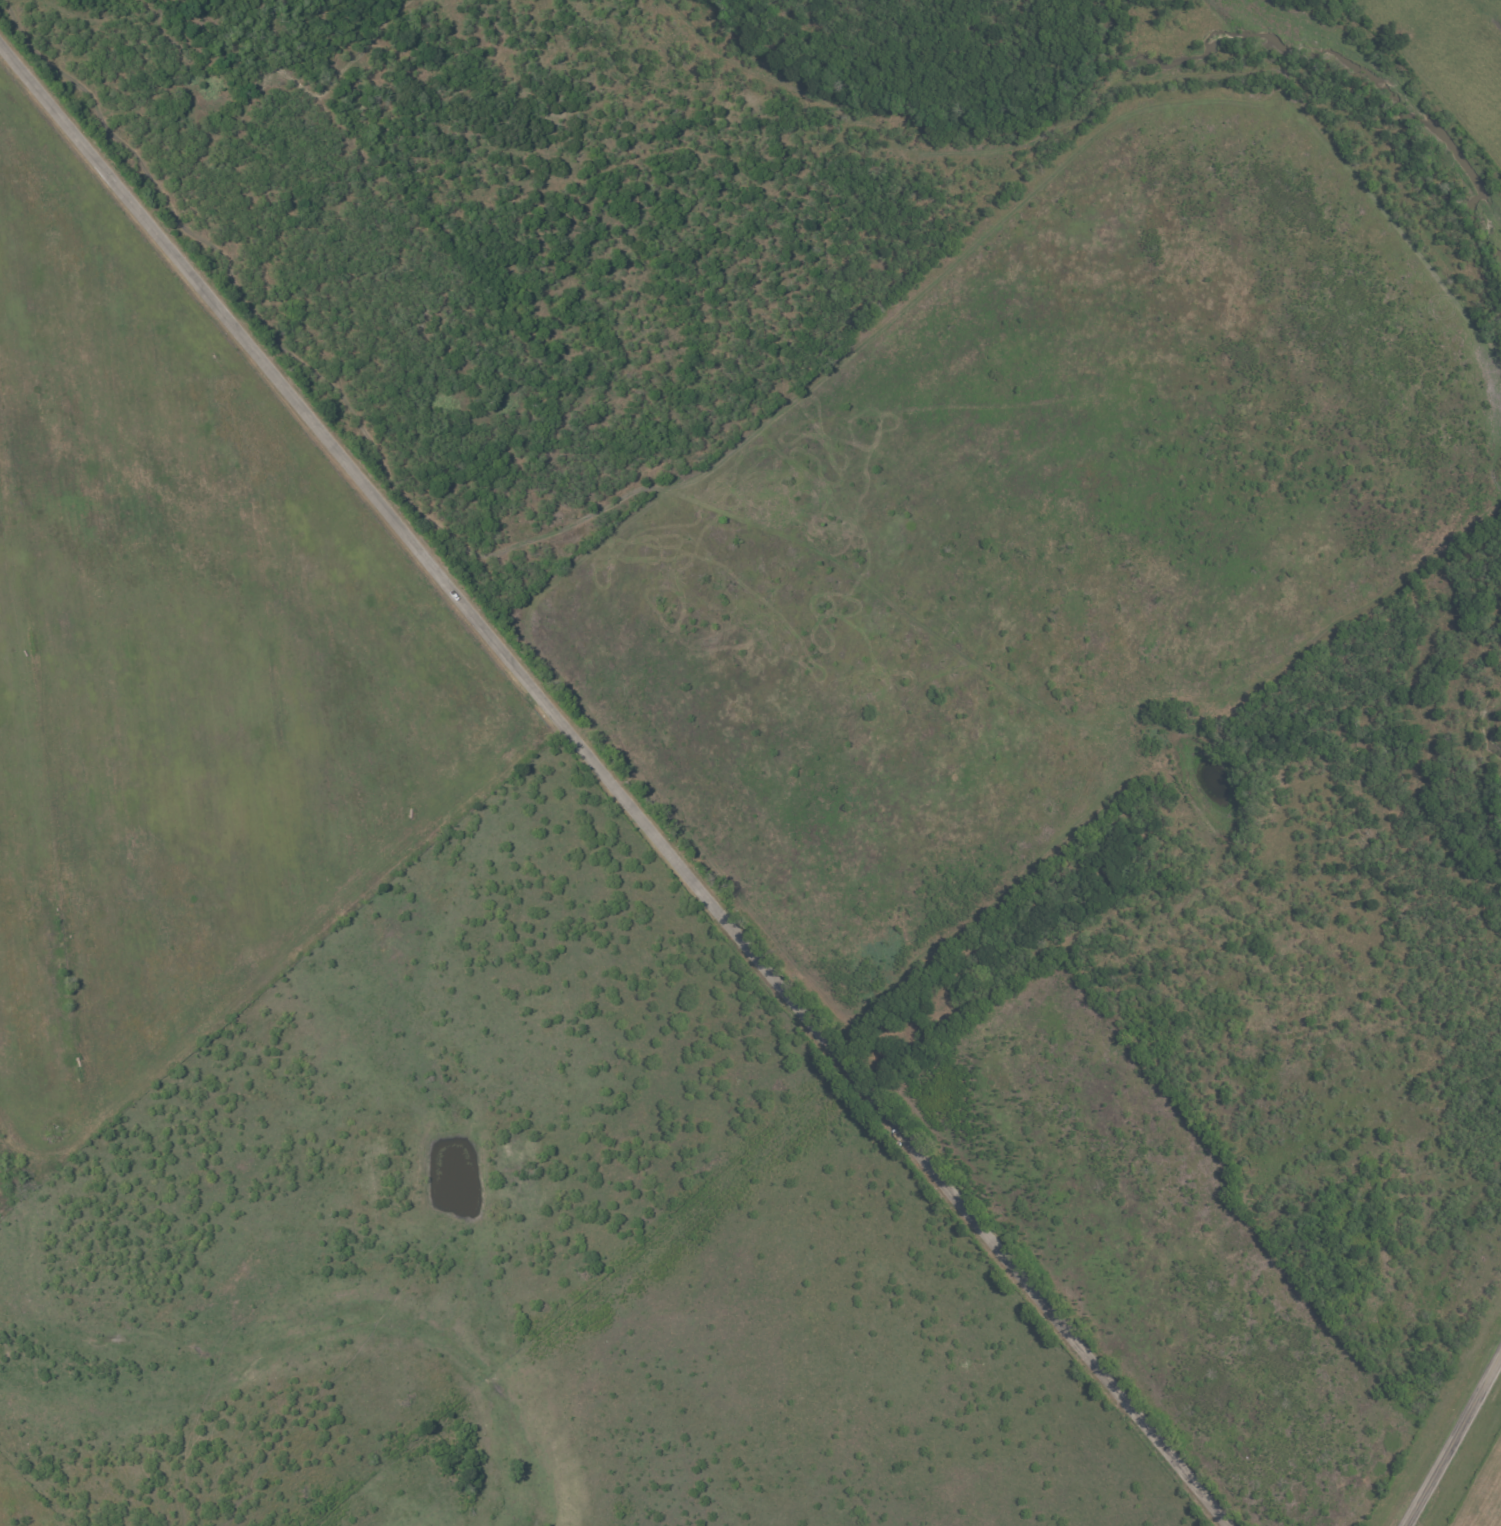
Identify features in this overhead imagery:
road: (612, 786)
road: (1454, 1443)

